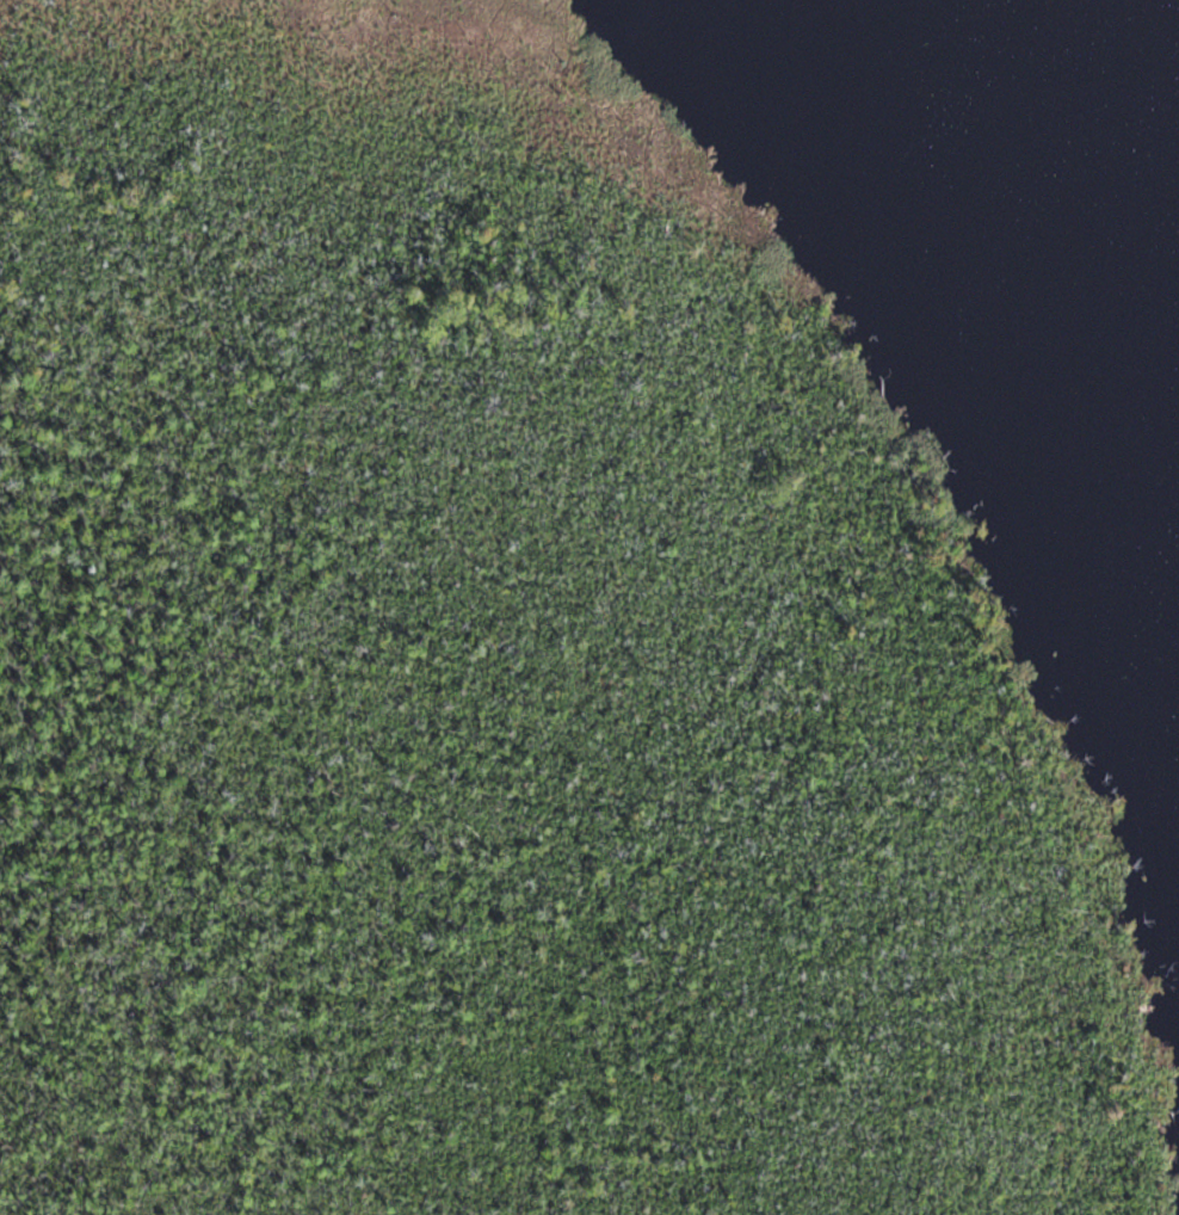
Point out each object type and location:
river: (1025, 135)

